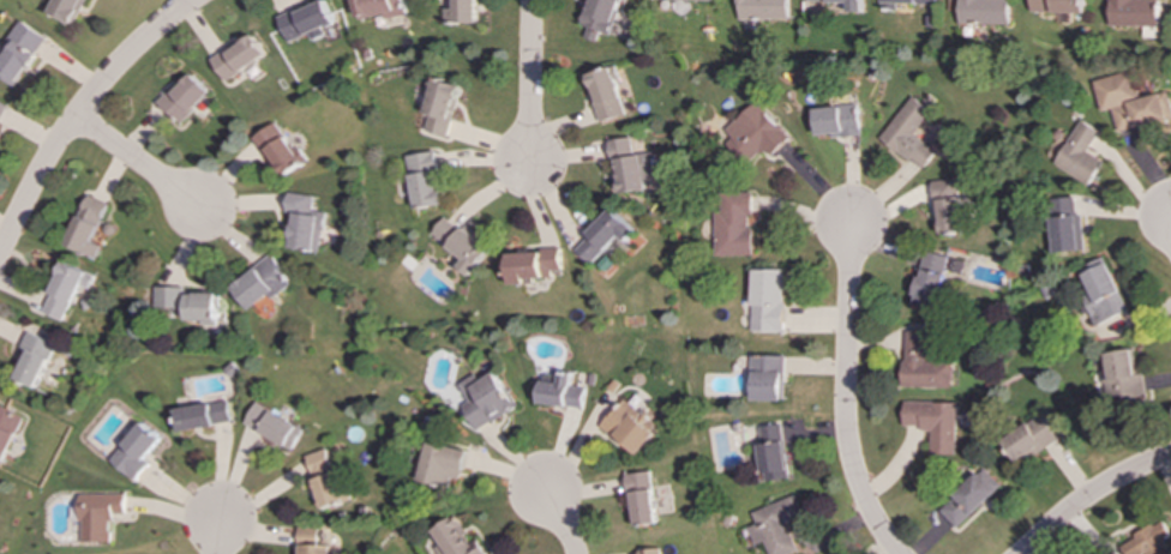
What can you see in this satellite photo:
building: (689, 0)
building: (902, 2)
building: (1056, 6)
building: (852, 7)
building: (379, 8)
building: (70, 10)
building: (759, 10)
building: (461, 12)
building: (980, 12)
building: (1131, 12)
building: (596, 17)
building: (306, 22)
building: (22, 52)
building: (239, 58)
road: (526, 80)
building: (602, 95)
building: (184, 97)
building: (1130, 102)
building: (1, 107)
building: (439, 108)
road: (78, 109)
building: (834, 121)
building: (907, 133)
building: (752, 134)
building: (275, 150)
building: (1079, 155)
road: (136, 159)
building: (629, 165)
building: (421, 180)
building: (945, 206)
building: (302, 223)
building: (729, 224)
building: (85, 225)
building: (1065, 225)
building: (600, 236)
building: (457, 243)
building: (529, 265)
building: (932, 278)
building: (257, 283)
building: (64, 289)
building: (1100, 290)
building: (767, 301)
building: (184, 303)
building: (31, 359)
building: (923, 363)
building: (1121, 377)
building: (767, 378)
building: (559, 392)
road: (845, 392)
building: (481, 399)
building: (198, 415)
building: (935, 423)
building: (269, 426)
building: (627, 428)
building: (6, 429)
building: (1029, 439)
building: (131, 451)
building: (773, 452)
building: (440, 465)
building: (320, 478)
road: (1091, 495)
building: (643, 499)
building: (966, 500)
building: (95, 516)
road: (560, 520)
building: (776, 525)
road: (212, 537)
building: (455, 537)
building: (310, 541)
building: (1147, 541)
building: (650, 550)

